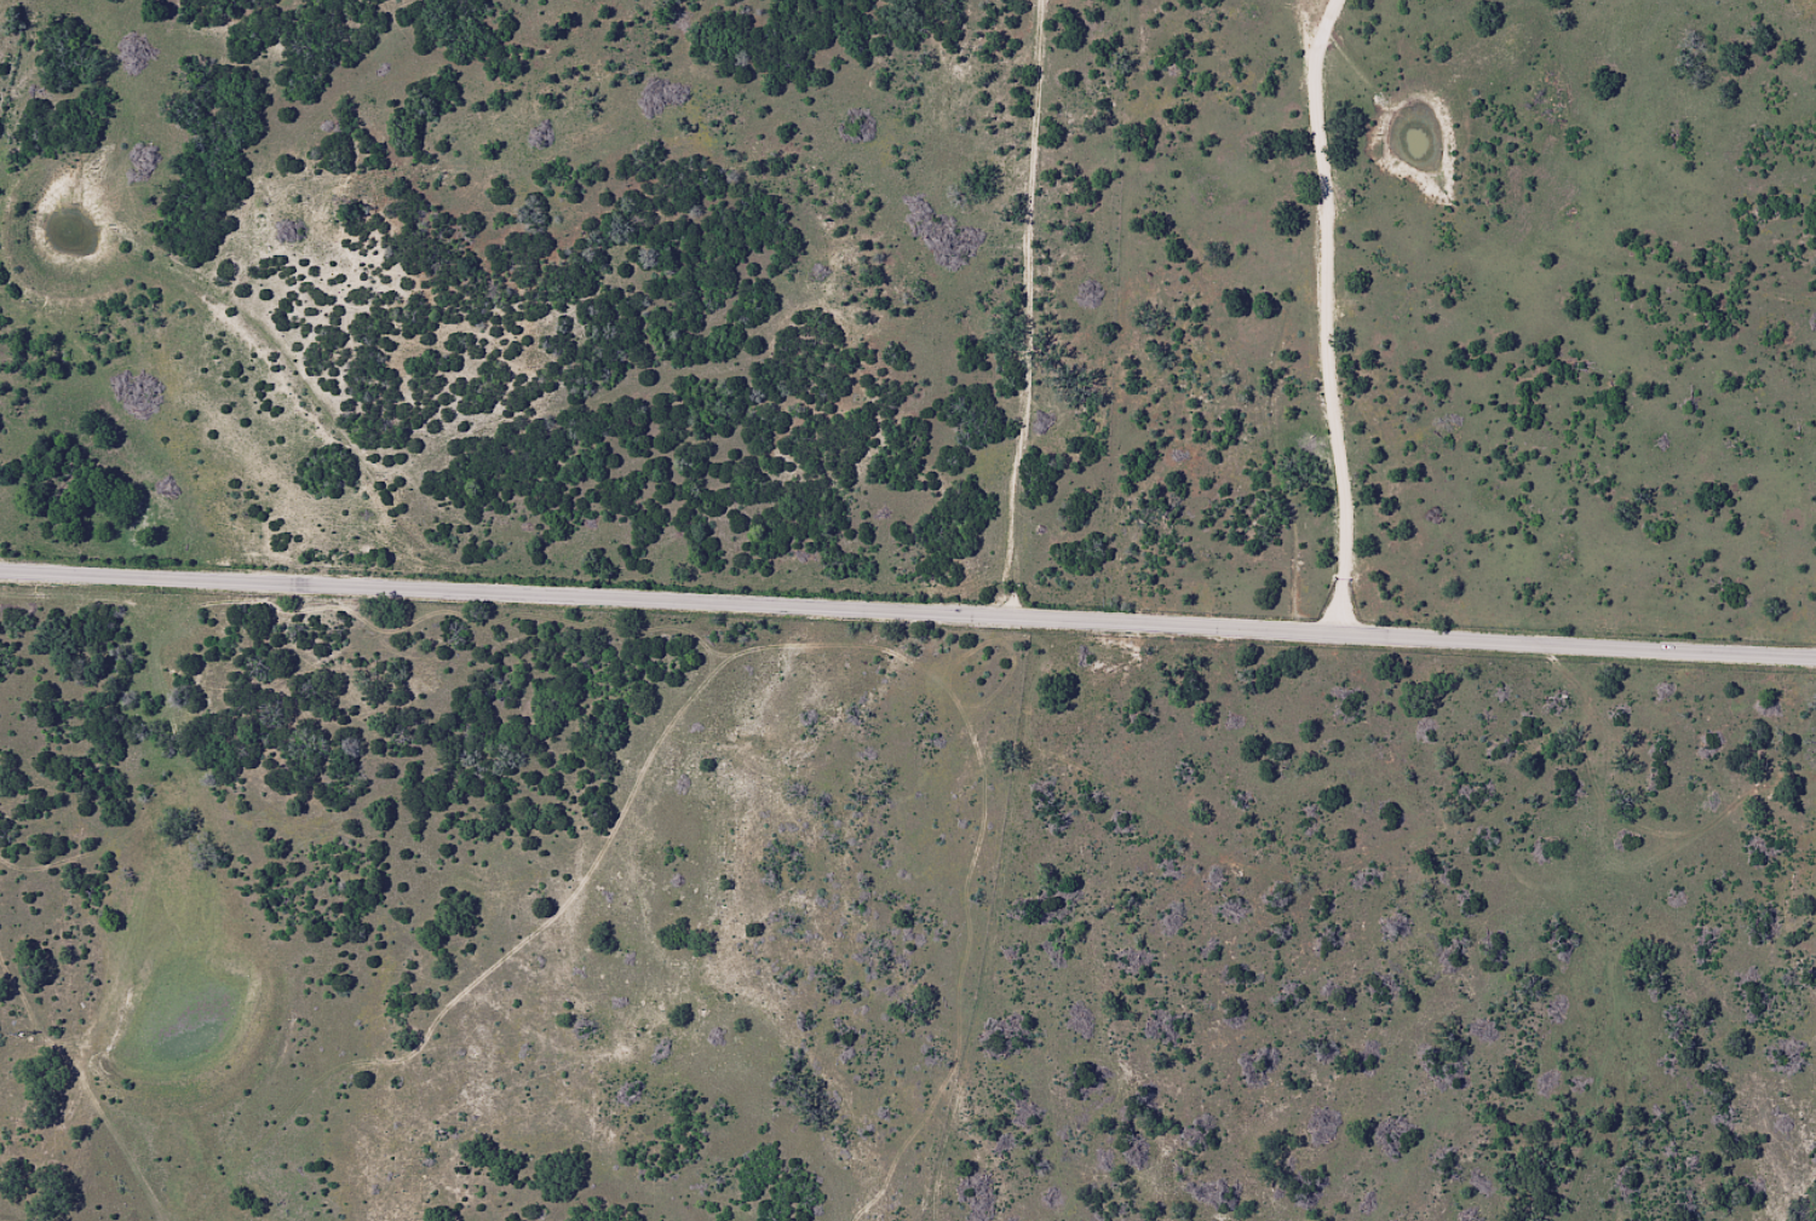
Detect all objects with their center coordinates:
road: (1034, 306)
road: (908, 607)

